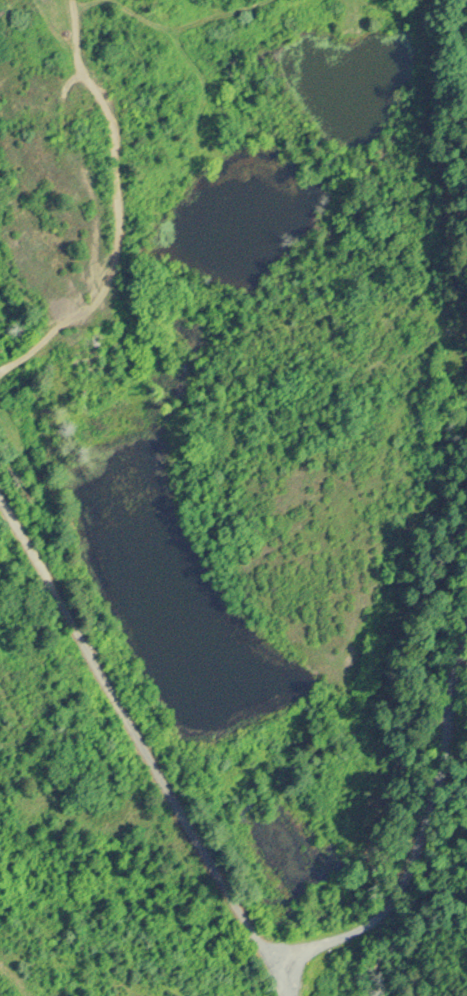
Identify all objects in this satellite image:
road: (118, 209)
road: (139, 742)
road: (423, 831)
road: (290, 983)

